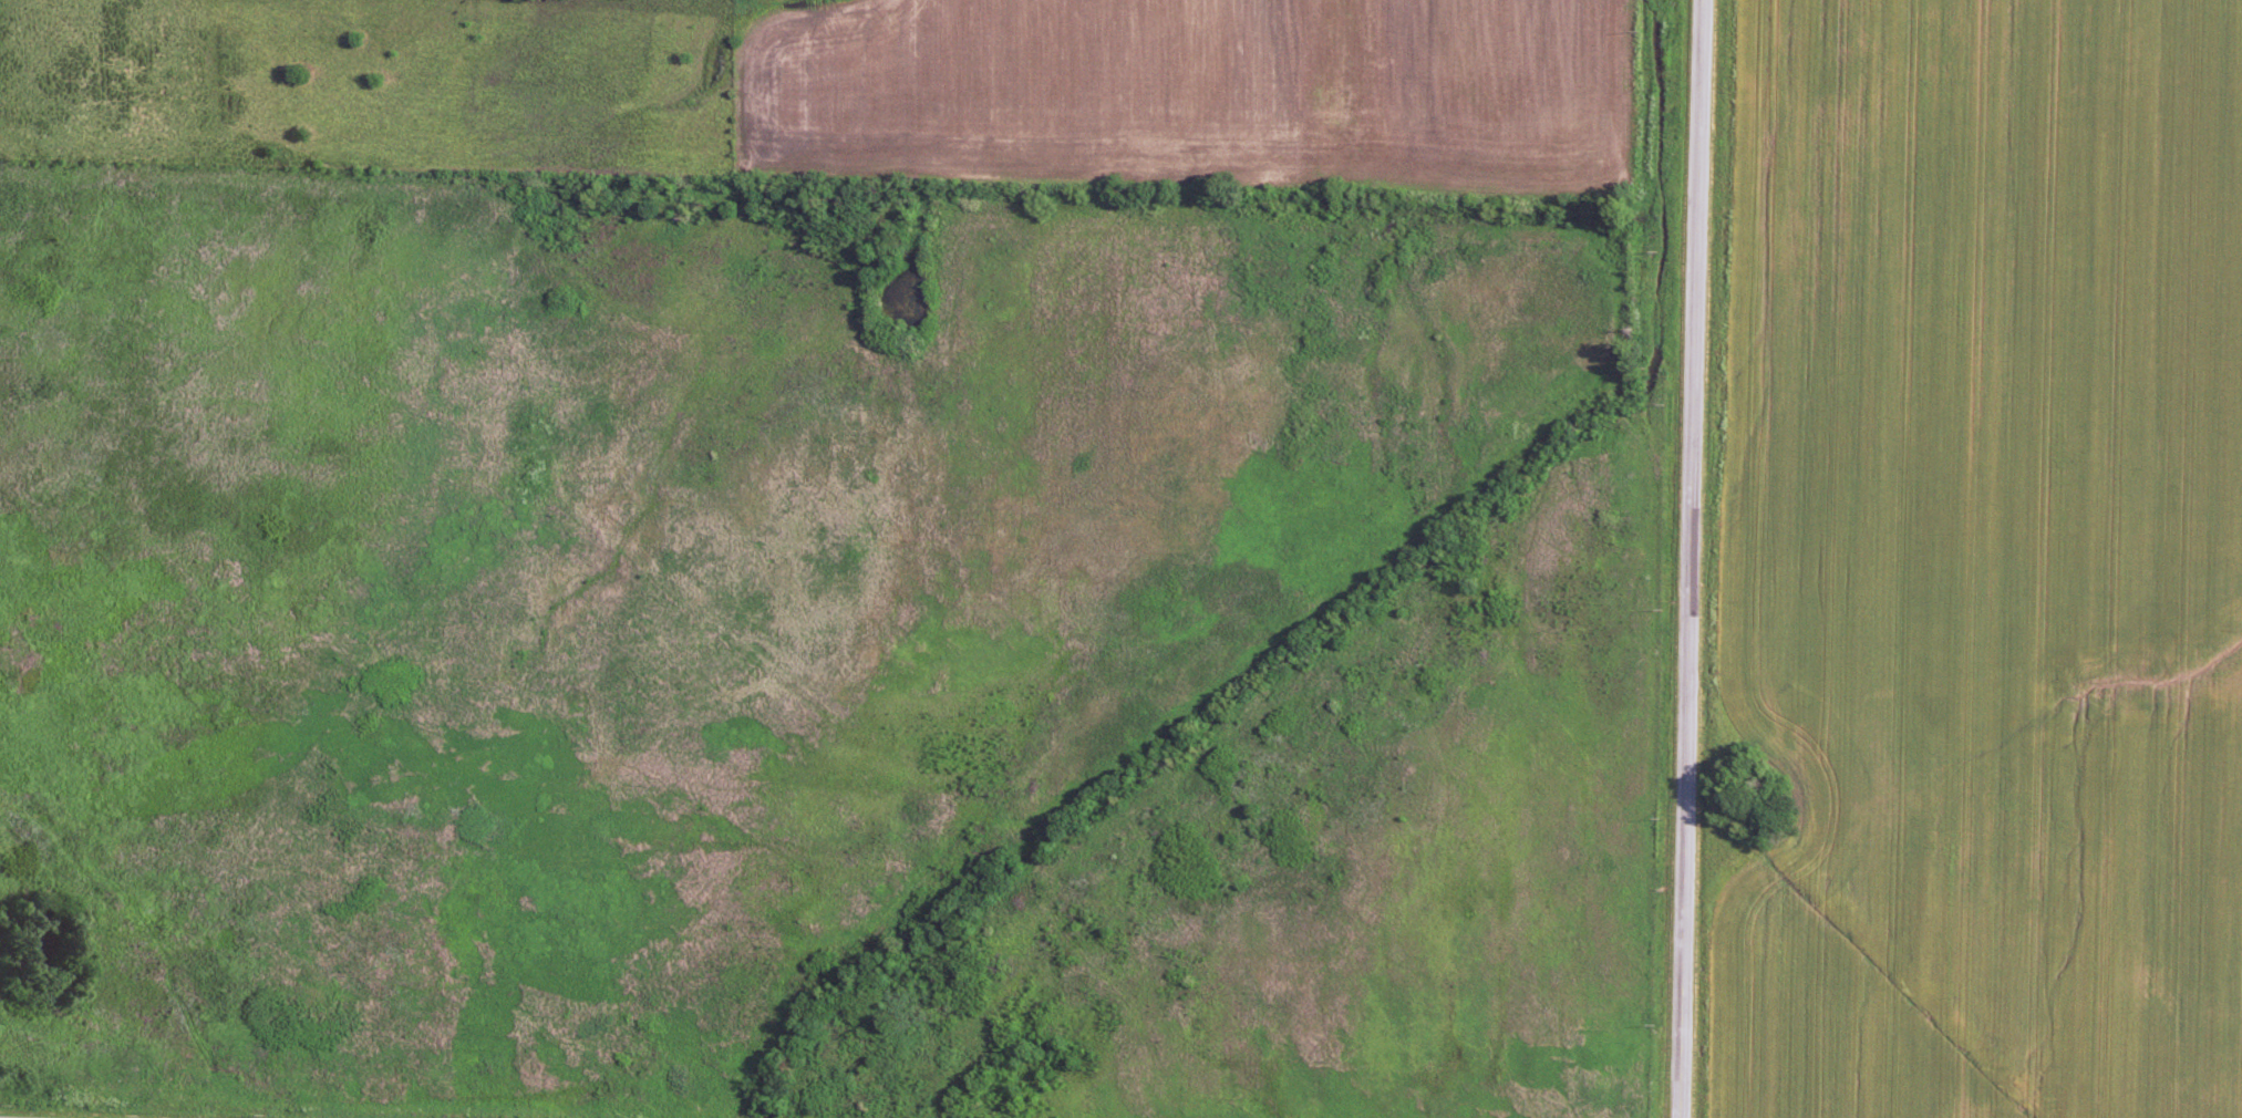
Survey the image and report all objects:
road: (1690, 558)

